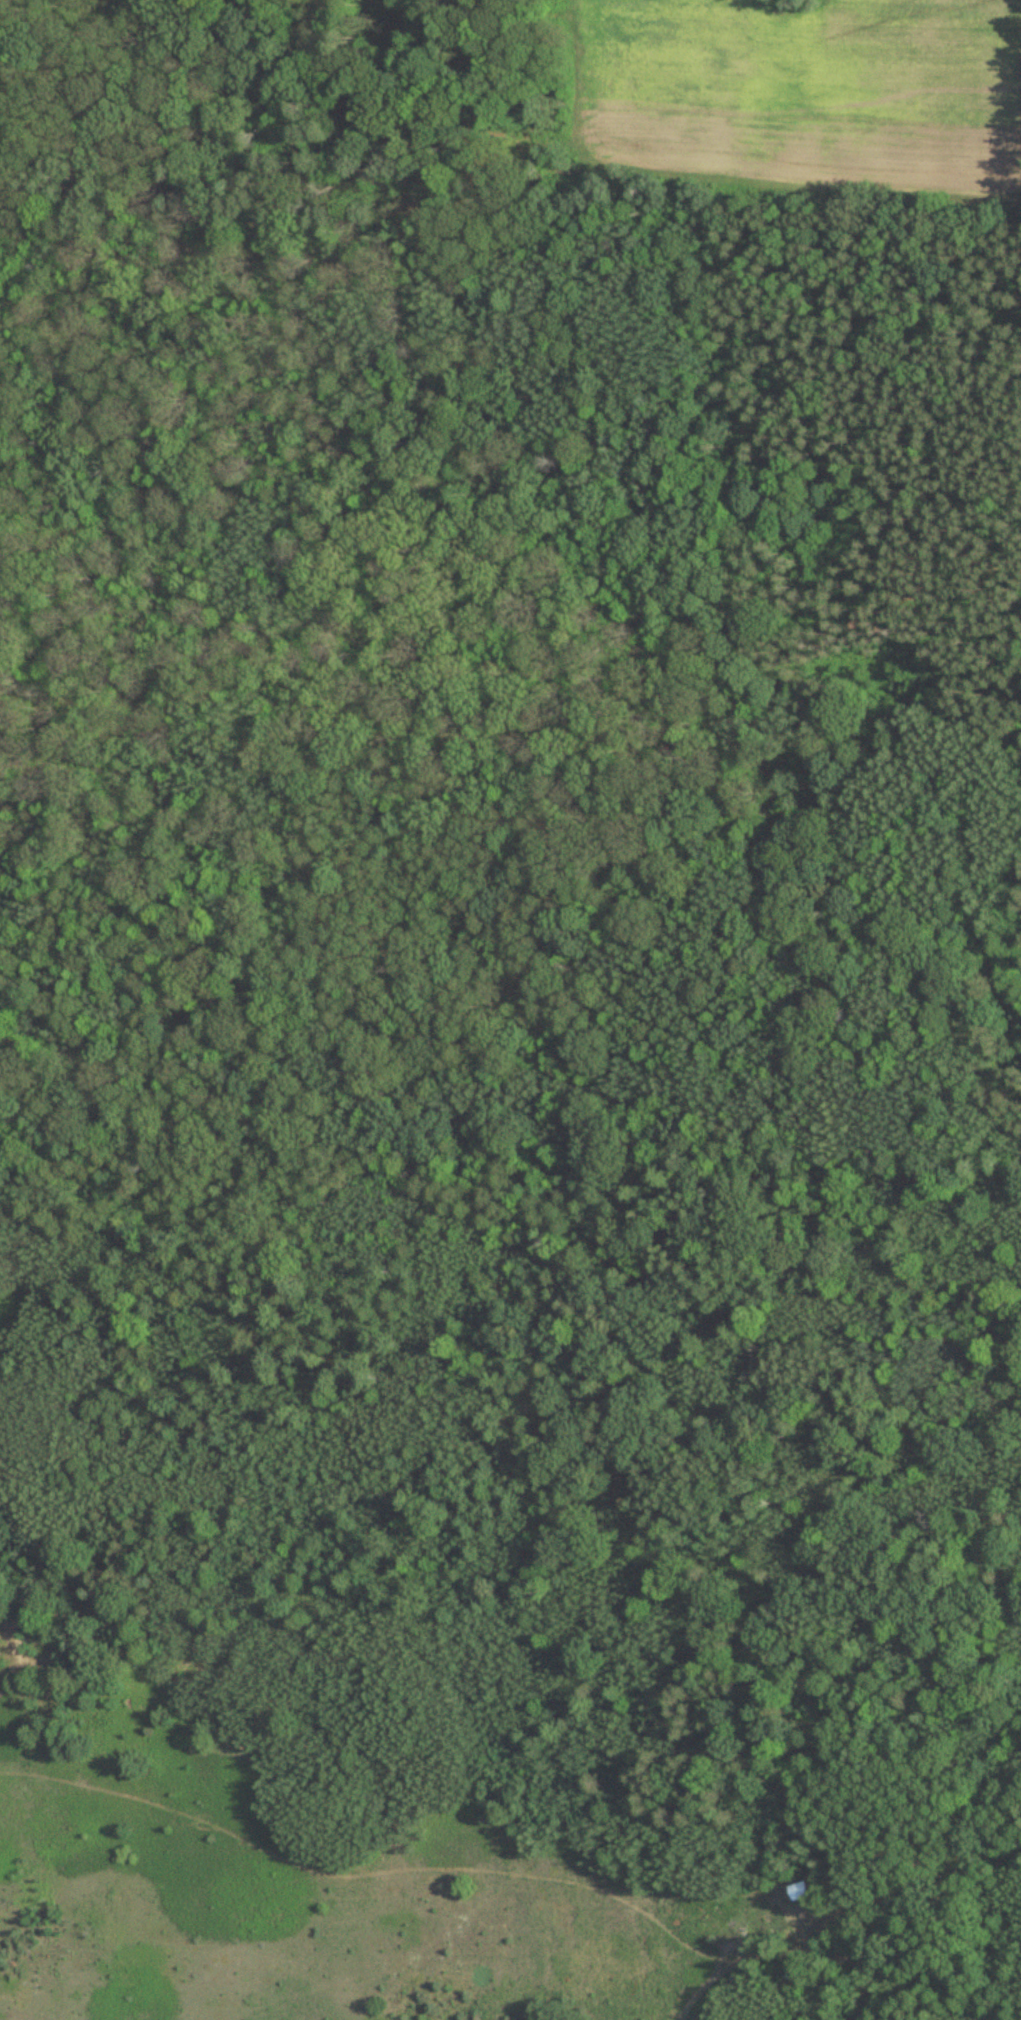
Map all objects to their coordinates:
building: (796, 1890)
road: (692, 1913)

